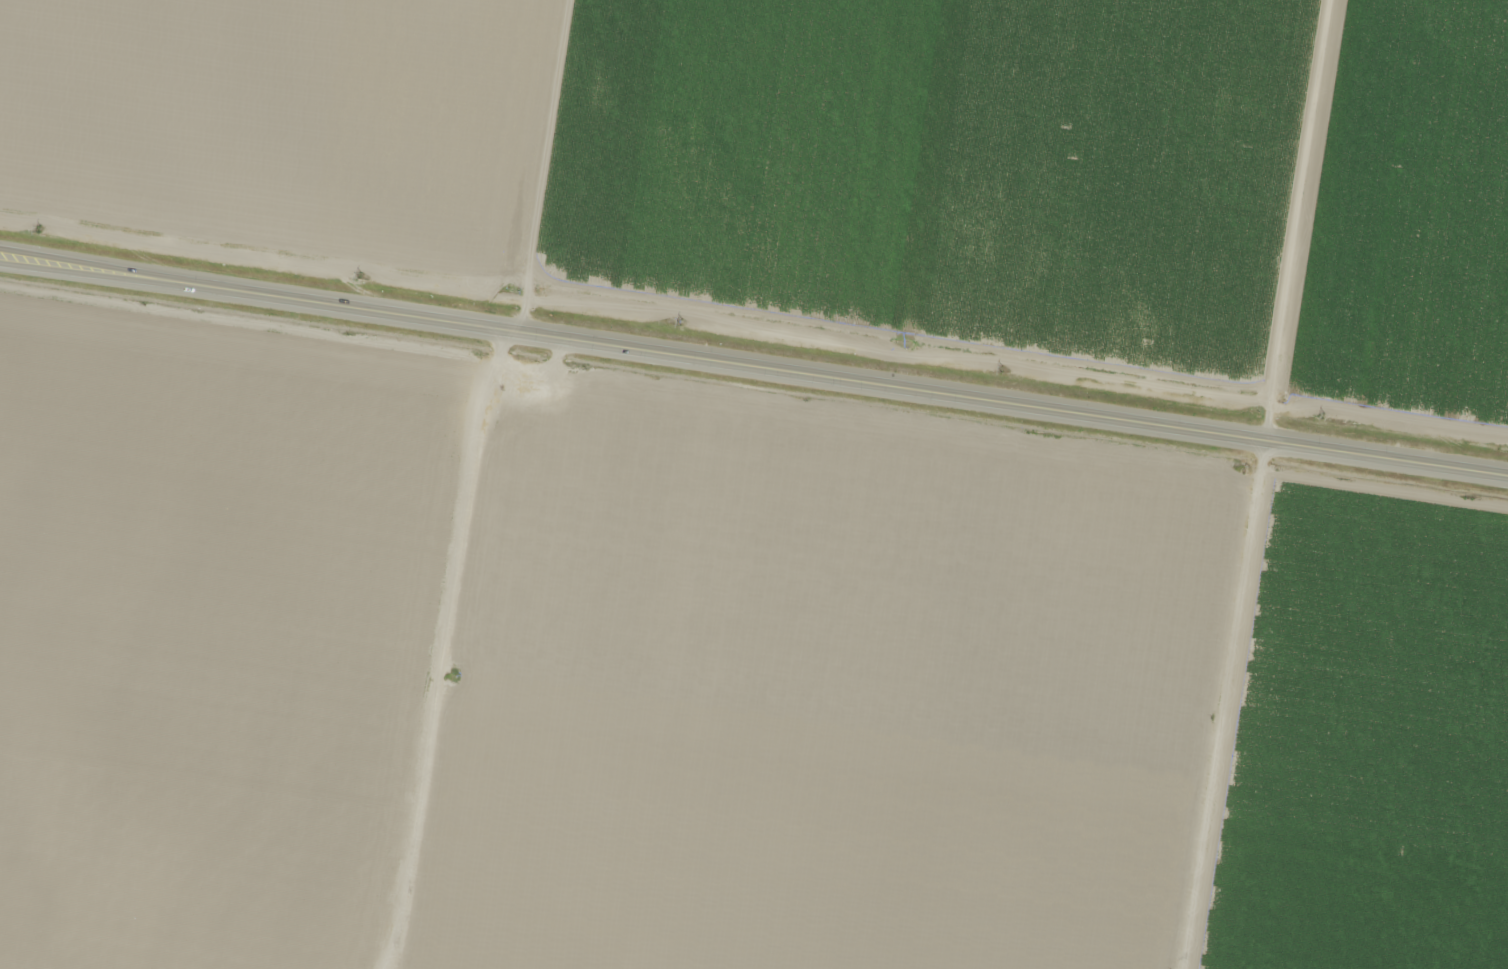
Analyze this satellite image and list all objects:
power tower: (39, 230)
power tower: (361, 275)
power tower: (681, 324)
road: (632, 347)
power tower: (1002, 370)
power tower: (1323, 416)
road: (1386, 457)
road: (1260, 483)

